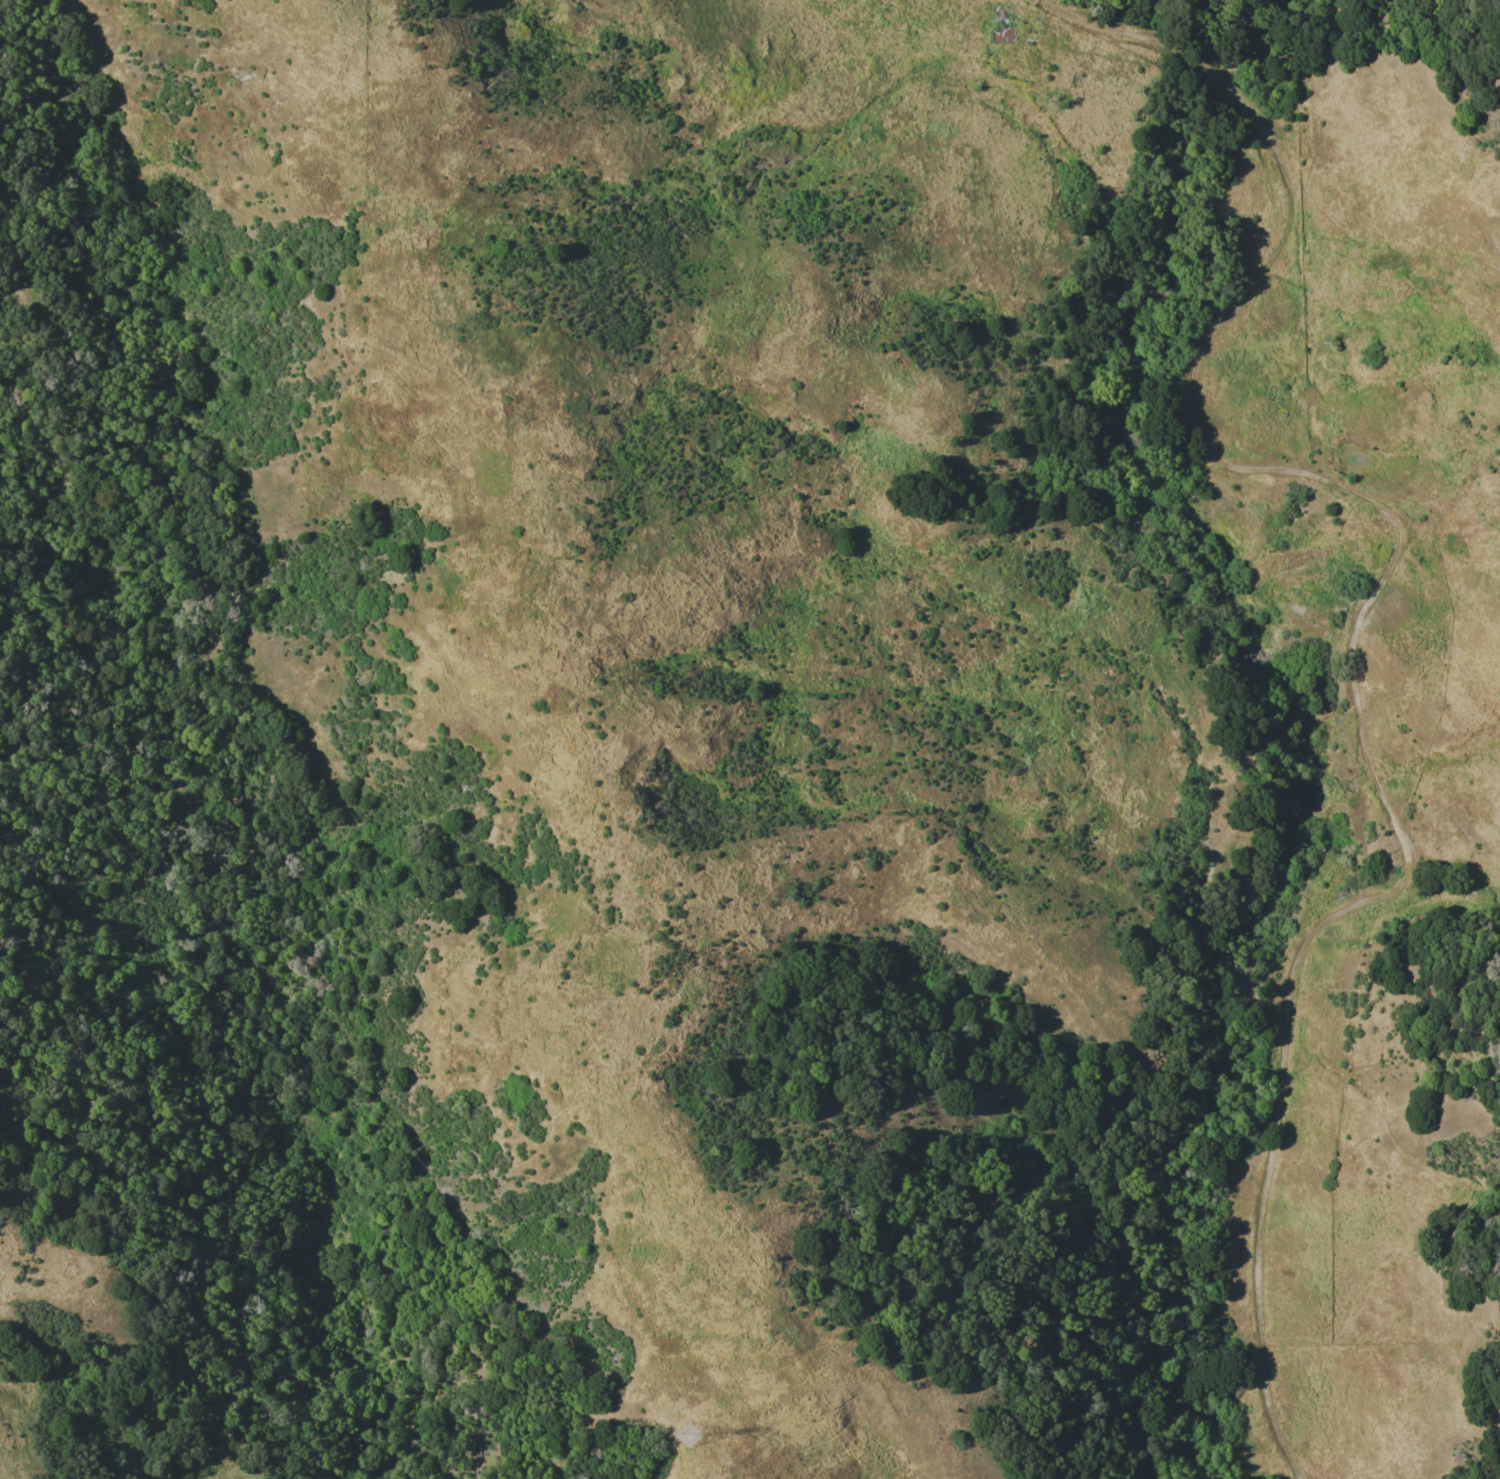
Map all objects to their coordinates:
power tower: (689, 1435)

